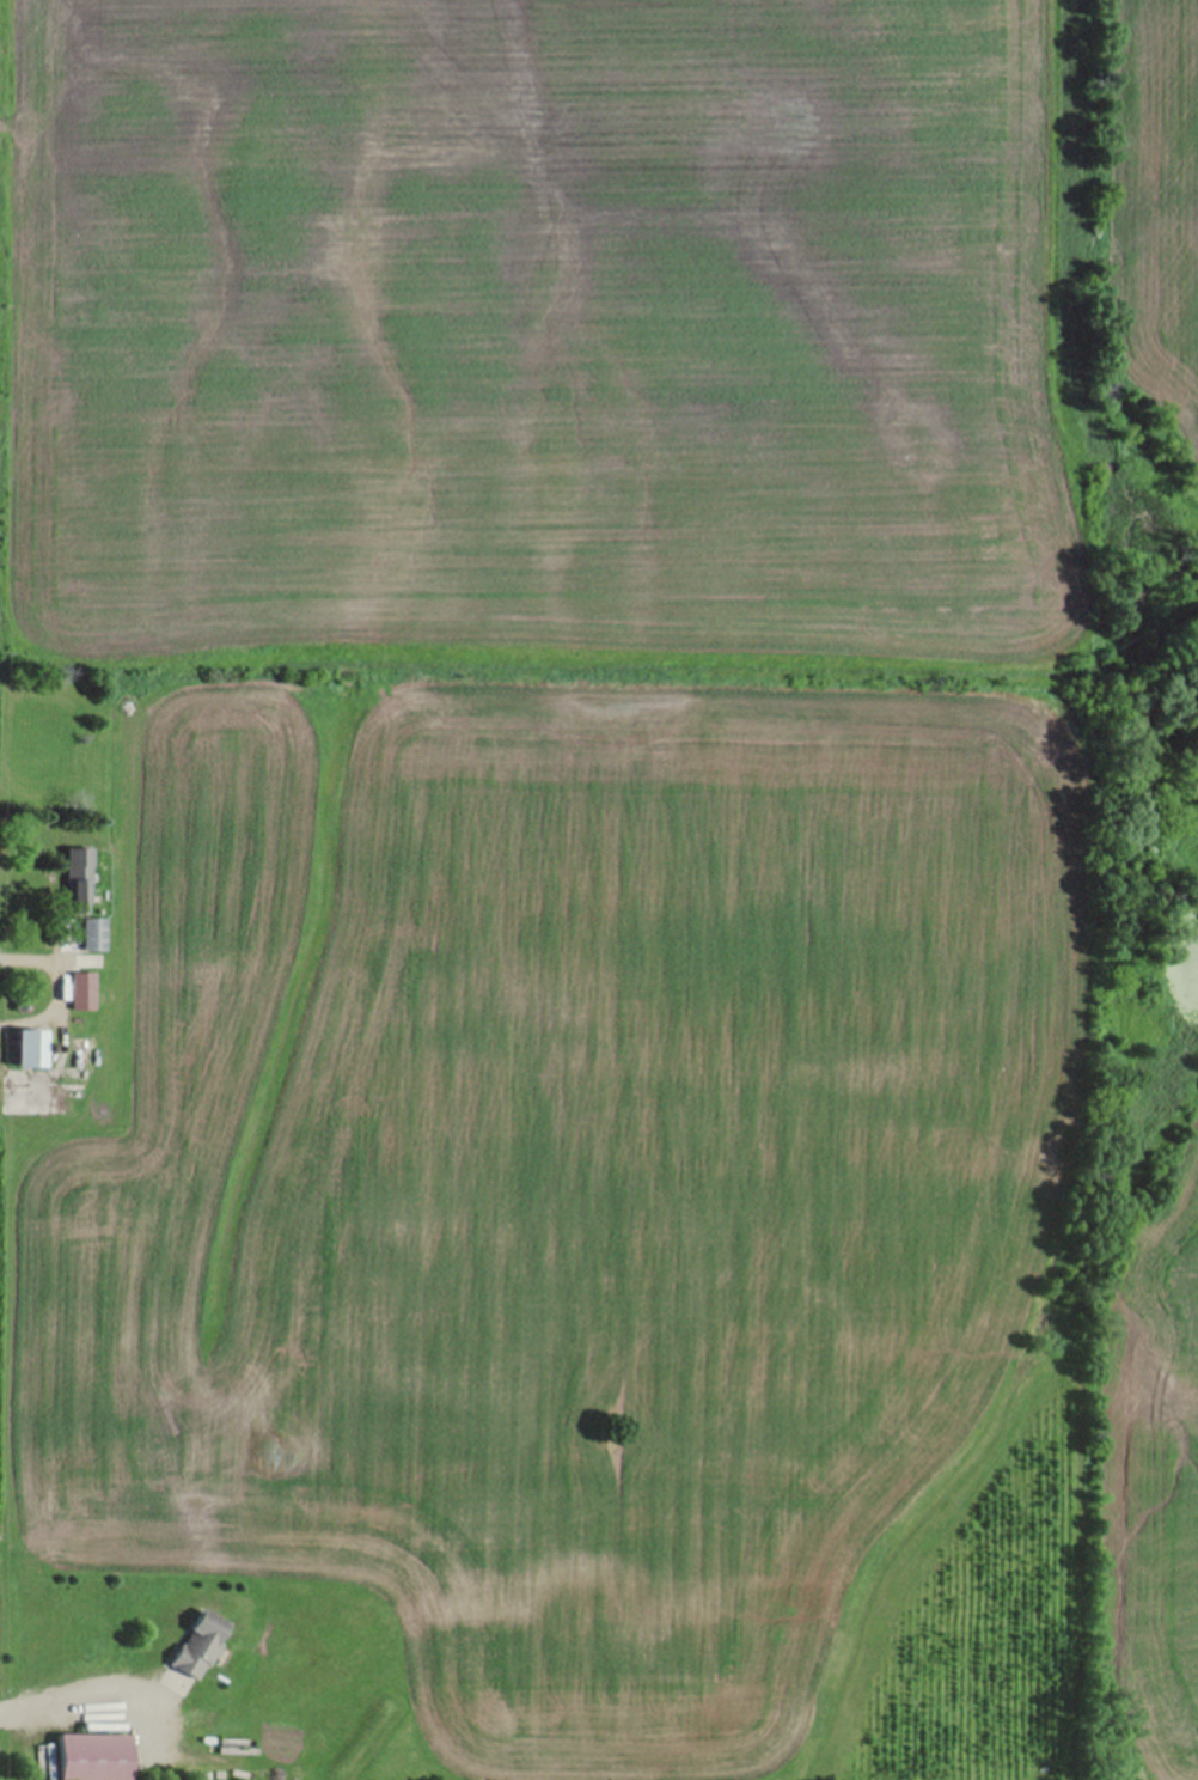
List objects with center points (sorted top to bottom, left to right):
building: (80, 890)
building: (96, 935)
road: (60, 988)
building: (84, 992)
building: (31, 1048)
building: (80, 1062)
building: (202, 1645)
road: (91, 1689)
building: (96, 1757)

